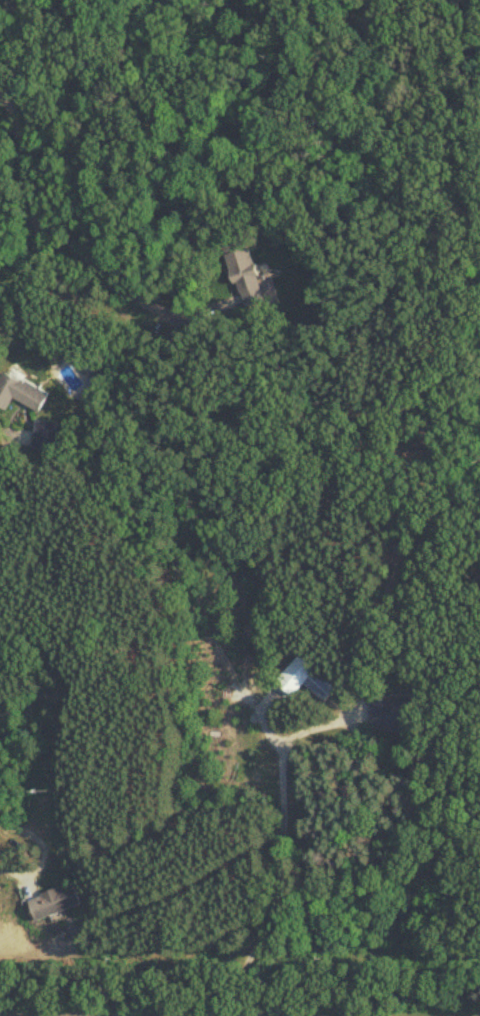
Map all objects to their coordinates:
road: (76, 248)
road: (27, 268)
building: (251, 281)
building: (20, 394)
road: (2, 425)
building: (45, 434)
building: (319, 686)
building: (395, 714)
road: (204, 777)
road: (283, 793)
road: (358, 821)
building: (56, 903)

